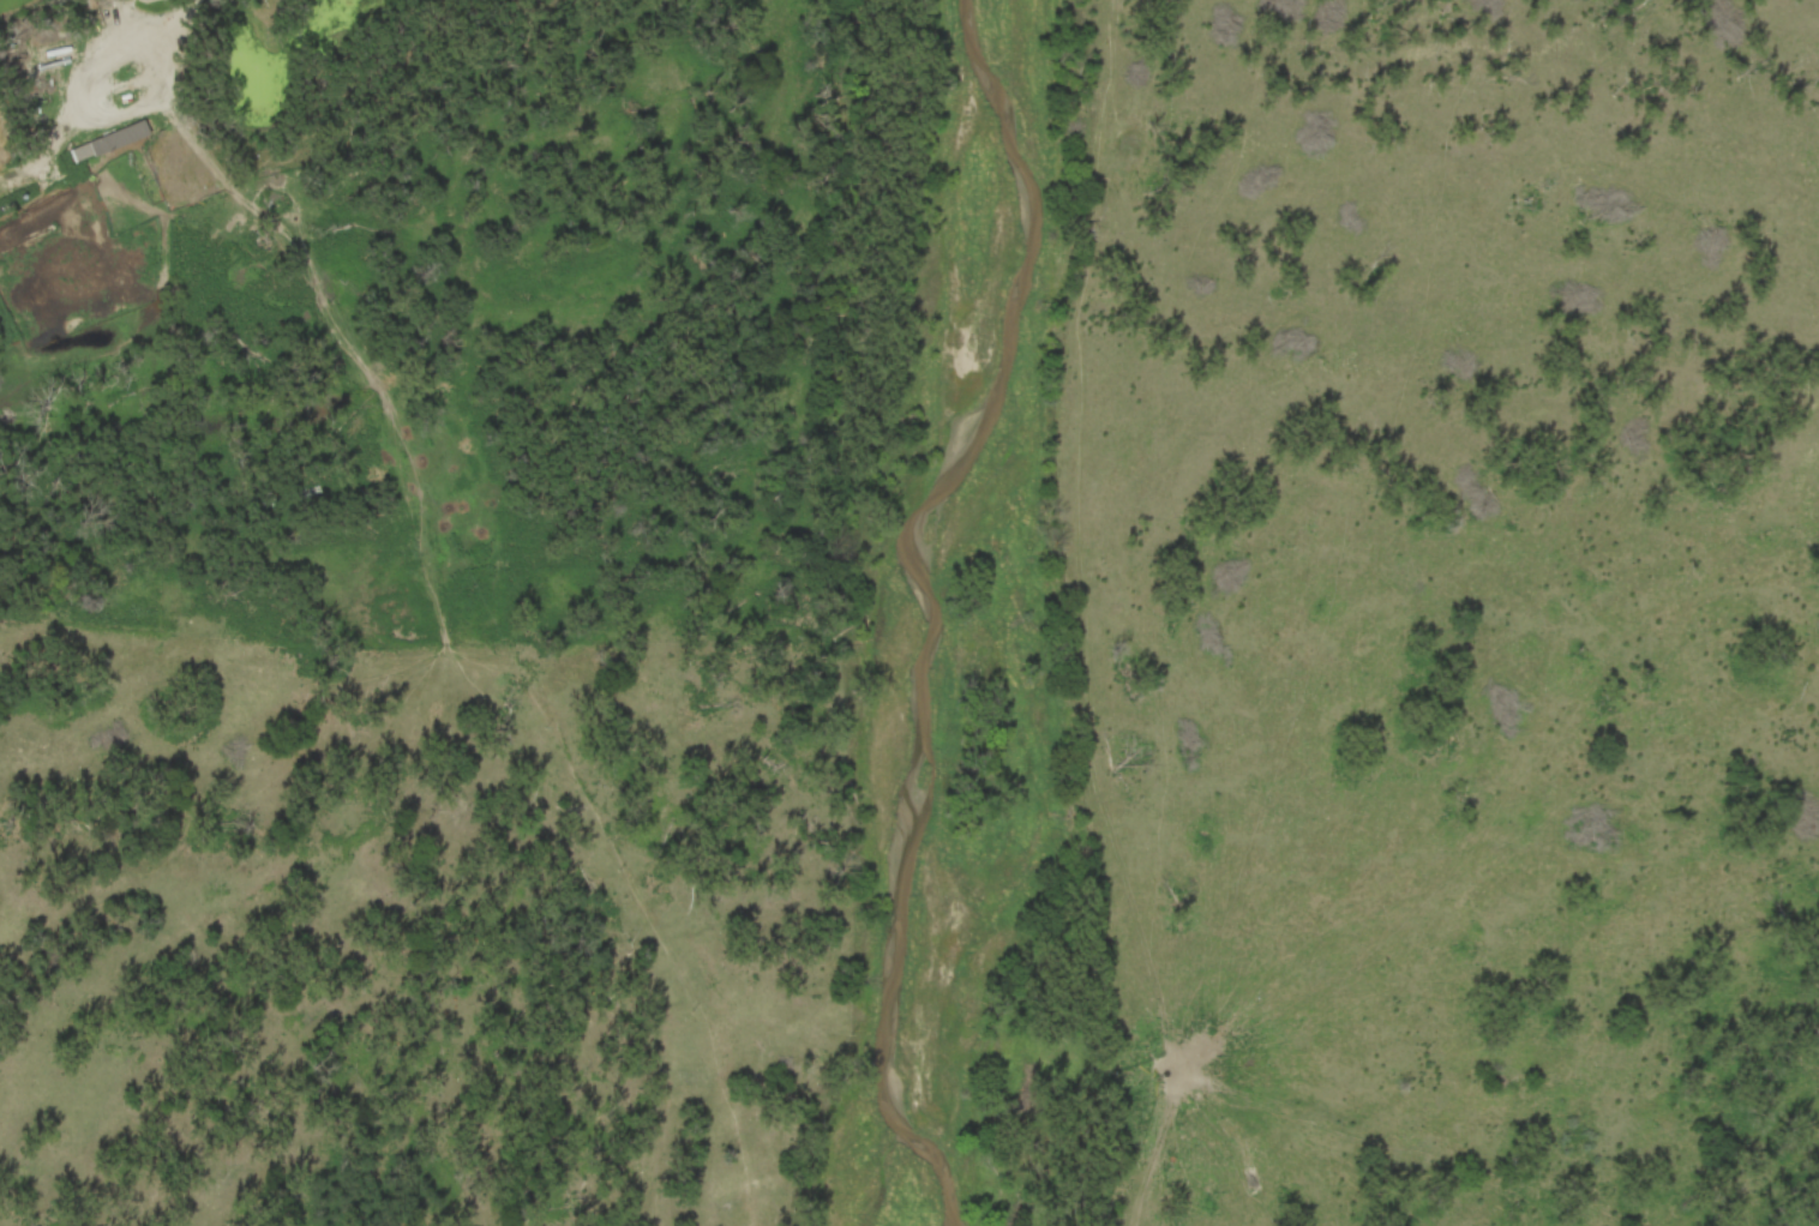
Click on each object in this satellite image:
road: (188, 82)
building: (80, 151)
river: (925, 606)

